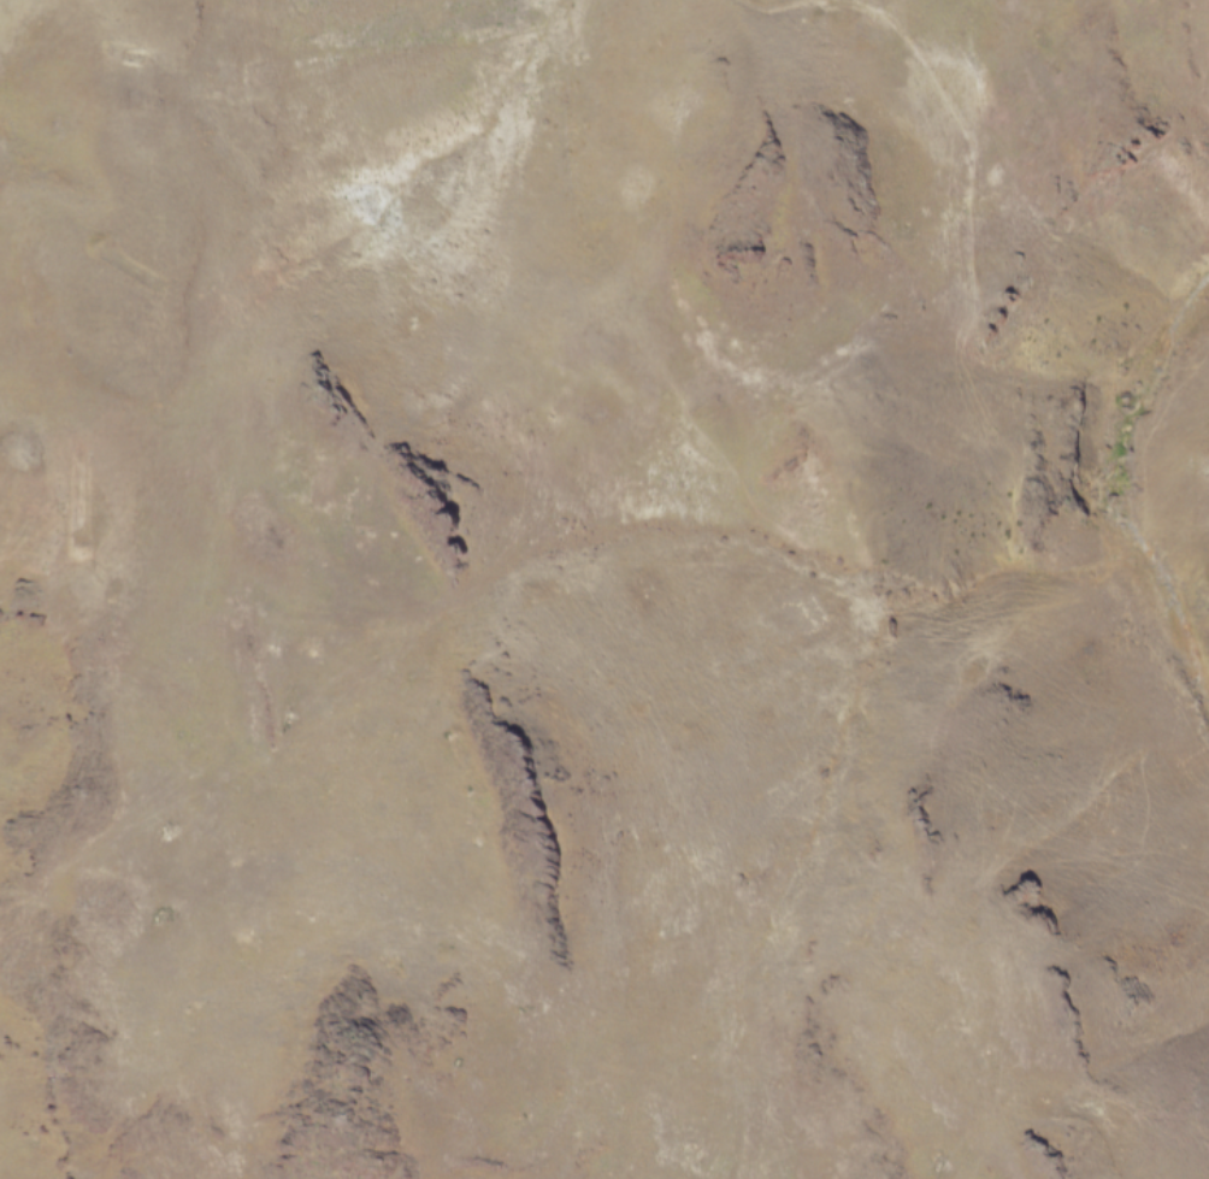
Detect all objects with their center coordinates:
road: (773, 4)
road: (956, 118)

